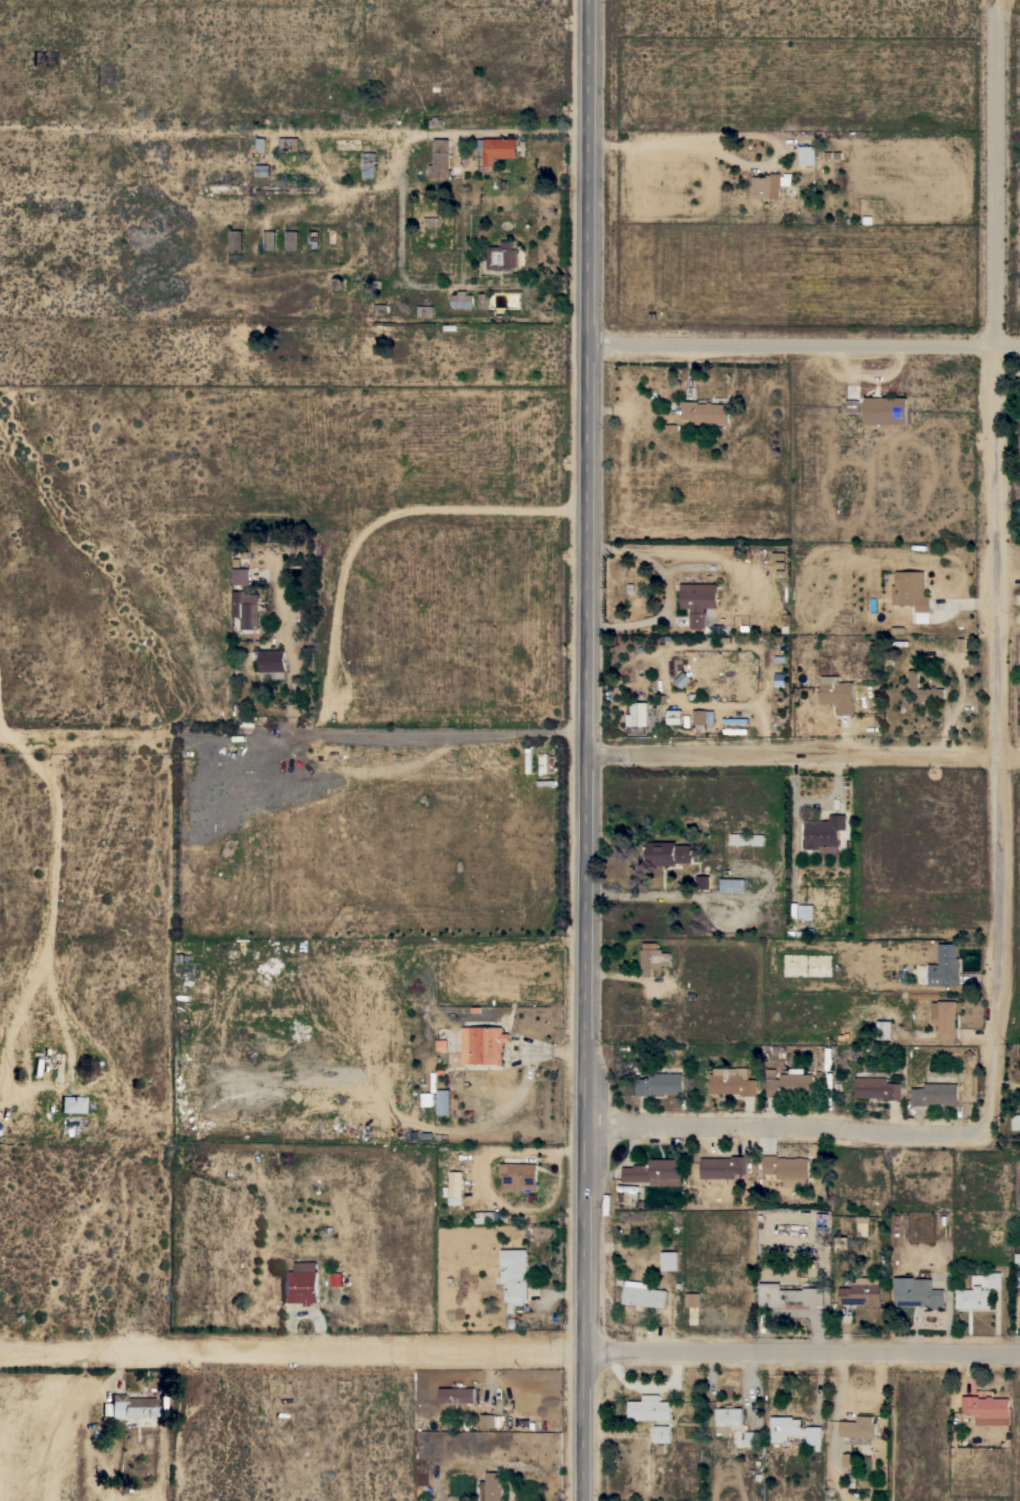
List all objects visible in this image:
road: (993, 5)
building: (436, 122)
road: (294, 130)
road: (730, 136)
building: (497, 148)
building: (807, 155)
building: (439, 159)
building: (368, 164)
building: (262, 170)
road: (996, 176)
building: (768, 186)
building: (235, 240)
building: (269, 240)
building: (291, 240)
building: (502, 256)
building: (462, 299)
building: (483, 300)
building: (380, 309)
building: (424, 311)
road: (807, 341)
building: (853, 406)
building: (885, 410)
building: (706, 413)
building: (671, 487)
building: (704, 487)
building: (241, 575)
road: (667, 590)
building: (912, 593)
building: (698, 601)
building: (245, 608)
road: (295, 648)
building: (271, 662)
building: (780, 680)
building: (922, 691)
road: (1004, 692)
building: (837, 694)
building: (637, 714)
building: (703, 716)
building: (674, 717)
road: (295, 731)
road: (591, 750)
road: (805, 755)
building: (824, 834)
building: (747, 839)
building: (667, 853)
building: (703, 882)
building: (732, 885)
building: (805, 911)
building: (653, 957)
building: (183, 958)
building: (945, 966)
building: (948, 1018)
building: (883, 1029)
building: (441, 1044)
building: (483, 1044)
building: (732, 1081)
building: (789, 1082)
building: (660, 1084)
building: (877, 1087)
road: (1001, 1090)
building: (935, 1092)
building: (427, 1099)
building: (444, 1101)
building: (72, 1104)
building: (1015, 1121)
road: (788, 1130)
building: (721, 1168)
building: (787, 1169)
building: (654, 1172)
building: (521, 1177)
building: (455, 1187)
building: (480, 1217)
building: (669, 1260)
building: (514, 1273)
building: (336, 1279)
building: (994, 1280)
building: (300, 1284)
building: (862, 1292)
building: (917, 1293)
building: (643, 1294)
building: (788, 1295)
building: (722, 1297)
building: (973, 1298)
building: (692, 1300)
building: (1019, 1306)
road: (803, 1350)
road: (293, 1352)
building: (457, 1394)
building: (132, 1405)
building: (650, 1409)
building: (987, 1409)
building: (728, 1416)
building: (487, 1421)
building: (857, 1429)
building: (793, 1430)
building: (662, 1433)
building: (752, 1438)
building: (849, 1460)
building: (493, 1486)

